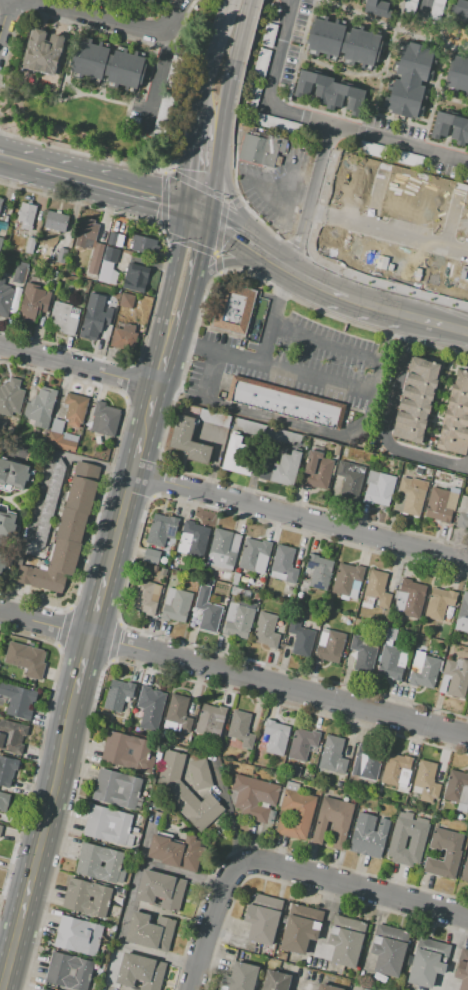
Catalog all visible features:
building: (146, 0)
road: (73, 5)
road: (352, 5)
building: (381, 5)
building: (409, 5)
road: (424, 8)
building: (436, 9)
building: (460, 9)
road: (3, 12)
road: (117, 23)
road: (419, 26)
road: (393, 28)
building: (268, 34)
road: (220, 37)
road: (237, 38)
building: (343, 41)
building: (45, 52)
road: (69, 57)
building: (90, 60)
building: (261, 61)
road: (328, 66)
building: (126, 69)
building: (458, 73)
building: (410, 80)
road: (378, 85)
road: (191, 86)
road: (156, 88)
building: (328, 91)
road: (86, 94)
road: (236, 94)
building: (467, 95)
road: (434, 96)
road: (451, 99)
road: (210, 100)
road: (218, 101)
road: (315, 120)
building: (450, 127)
building: (369, 148)
building: (261, 149)
road: (6, 158)
building: (407, 158)
road: (24, 163)
road: (201, 170)
road: (194, 183)
road: (283, 187)
road: (116, 188)
road: (231, 191)
road: (230, 196)
road: (310, 198)
road: (382, 201)
building: (1, 202)
traffic signals: (195, 216)
building: (25, 217)
building: (56, 221)
road: (458, 221)
building: (2, 228)
road: (163, 230)
road: (230, 231)
road: (387, 231)
building: (86, 233)
road: (219, 233)
building: (115, 238)
building: (0, 239)
building: (145, 244)
building: (30, 245)
road: (186, 254)
building: (62, 255)
building: (96, 258)
road: (218, 266)
building: (109, 267)
building: (54, 268)
road: (340, 269)
road: (217, 270)
building: (20, 271)
building: (53, 273)
building: (136, 277)
road: (304, 278)
road: (157, 281)
road: (280, 283)
building: (17, 294)
building: (5, 297)
building: (127, 301)
building: (33, 302)
building: (14, 306)
road: (380, 308)
building: (230, 309)
building: (63, 318)
building: (43, 320)
building: (95, 320)
road: (440, 323)
road: (268, 330)
building: (106, 332)
road: (1, 333)
road: (387, 335)
building: (124, 338)
road: (164, 340)
road: (191, 343)
road: (324, 343)
road: (75, 364)
road: (293, 370)
road: (209, 375)
road: (375, 375)
road: (127, 380)
road: (176, 389)
building: (10, 397)
building: (415, 400)
road: (147, 401)
building: (284, 403)
road: (438, 406)
building: (41, 407)
building: (75, 409)
building: (213, 417)
building: (105, 418)
building: (456, 418)
road: (279, 419)
road: (384, 422)
building: (2, 426)
building: (57, 426)
road: (141, 426)
building: (36, 437)
building: (189, 440)
building: (63, 441)
building: (337, 450)
road: (133, 456)
building: (236, 456)
road: (47, 459)
building: (282, 469)
building: (317, 470)
building: (13, 473)
road: (107, 473)
building: (350, 478)
road: (157, 479)
building: (378, 488)
building: (454, 489)
building: (413, 494)
building: (49, 504)
building: (438, 505)
road: (298, 518)
building: (462, 519)
building: (6, 520)
road: (117, 522)
building: (161, 529)
building: (66, 534)
building: (196, 538)
building: (221, 550)
building: (255, 555)
building: (151, 556)
building: (4, 562)
building: (173, 563)
building: (285, 563)
building: (164, 571)
building: (319, 571)
road: (126, 574)
building: (217, 574)
building: (226, 574)
building: (346, 578)
building: (235, 579)
building: (246, 581)
building: (378, 587)
building: (234, 592)
building: (409, 597)
building: (143, 598)
road: (7, 599)
road: (96, 602)
building: (439, 603)
building: (176, 605)
building: (208, 609)
building: (463, 614)
building: (385, 617)
building: (238, 620)
road: (44, 623)
road: (63, 626)
building: (266, 630)
building: (390, 633)
building: (410, 635)
building: (301, 638)
road: (115, 641)
building: (330, 645)
building: (363, 655)
building: (26, 659)
road: (123, 659)
building: (390, 663)
road: (81, 664)
building: (424, 670)
building: (456, 678)
road: (277, 686)
building: (118, 694)
building: (17, 700)
building: (151, 707)
building: (179, 711)
building: (210, 720)
building: (241, 729)
building: (12, 735)
building: (276, 737)
road: (39, 743)
building: (126, 743)
building: (302, 743)
building: (334, 753)
building: (124, 759)
building: (366, 763)
building: (397, 770)
building: (6, 771)
building: (295, 771)
building: (200, 774)
building: (427, 781)
building: (116, 782)
building: (339, 785)
building: (457, 789)
building: (185, 793)
building: (254, 797)
building: (115, 798)
building: (4, 801)
building: (295, 810)
building: (439, 812)
building: (108, 818)
building: (332, 820)
building: (1, 829)
building: (107, 834)
building: (369, 836)
road: (37, 841)
building: (397, 842)
building: (176, 851)
road: (275, 851)
building: (444, 853)
building: (100, 855)
building: (465, 869)
building: (100, 871)
road: (183, 872)
road: (297, 885)
road: (351, 885)
building: (89, 890)
building: (161, 890)
building: (85, 906)
building: (259, 919)
road: (207, 926)
building: (79, 928)
building: (301, 929)
building: (149, 931)
building: (344, 941)
building: (75, 944)
building: (387, 950)
building: (428, 963)
building: (69, 964)
building: (139, 971)
building: (461, 972)
building: (240, 977)
building: (66, 979)
building: (275, 981)
building: (326, 987)
building: (42, 989)

